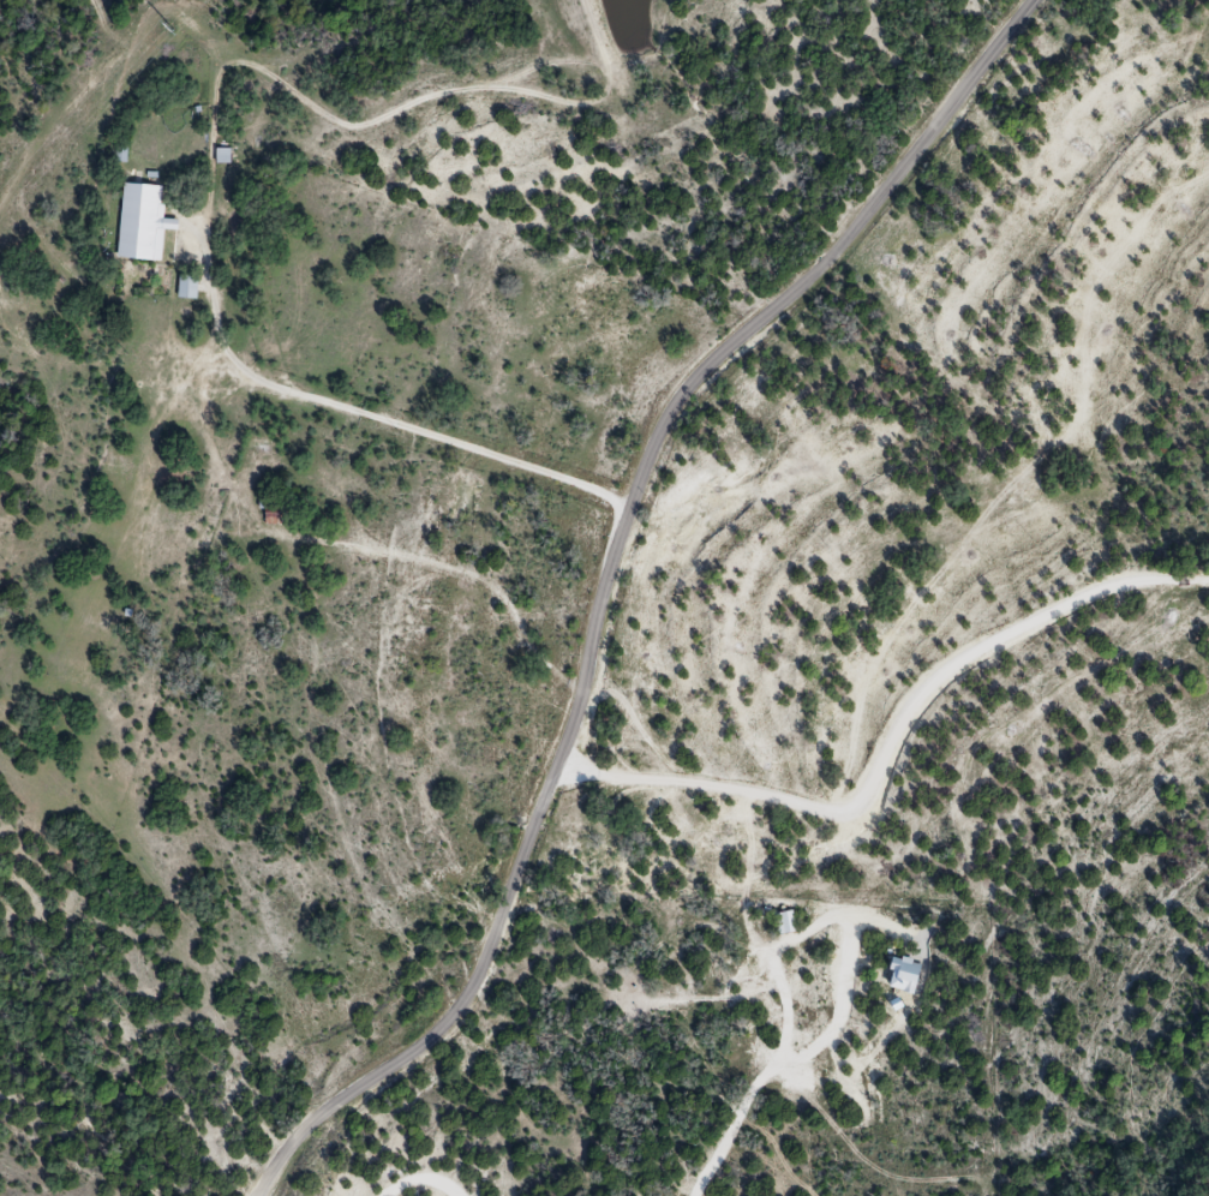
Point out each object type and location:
power tower: (172, 25)
building: (142, 222)
building: (186, 286)
road: (366, 414)
building: (270, 515)
road: (603, 580)

